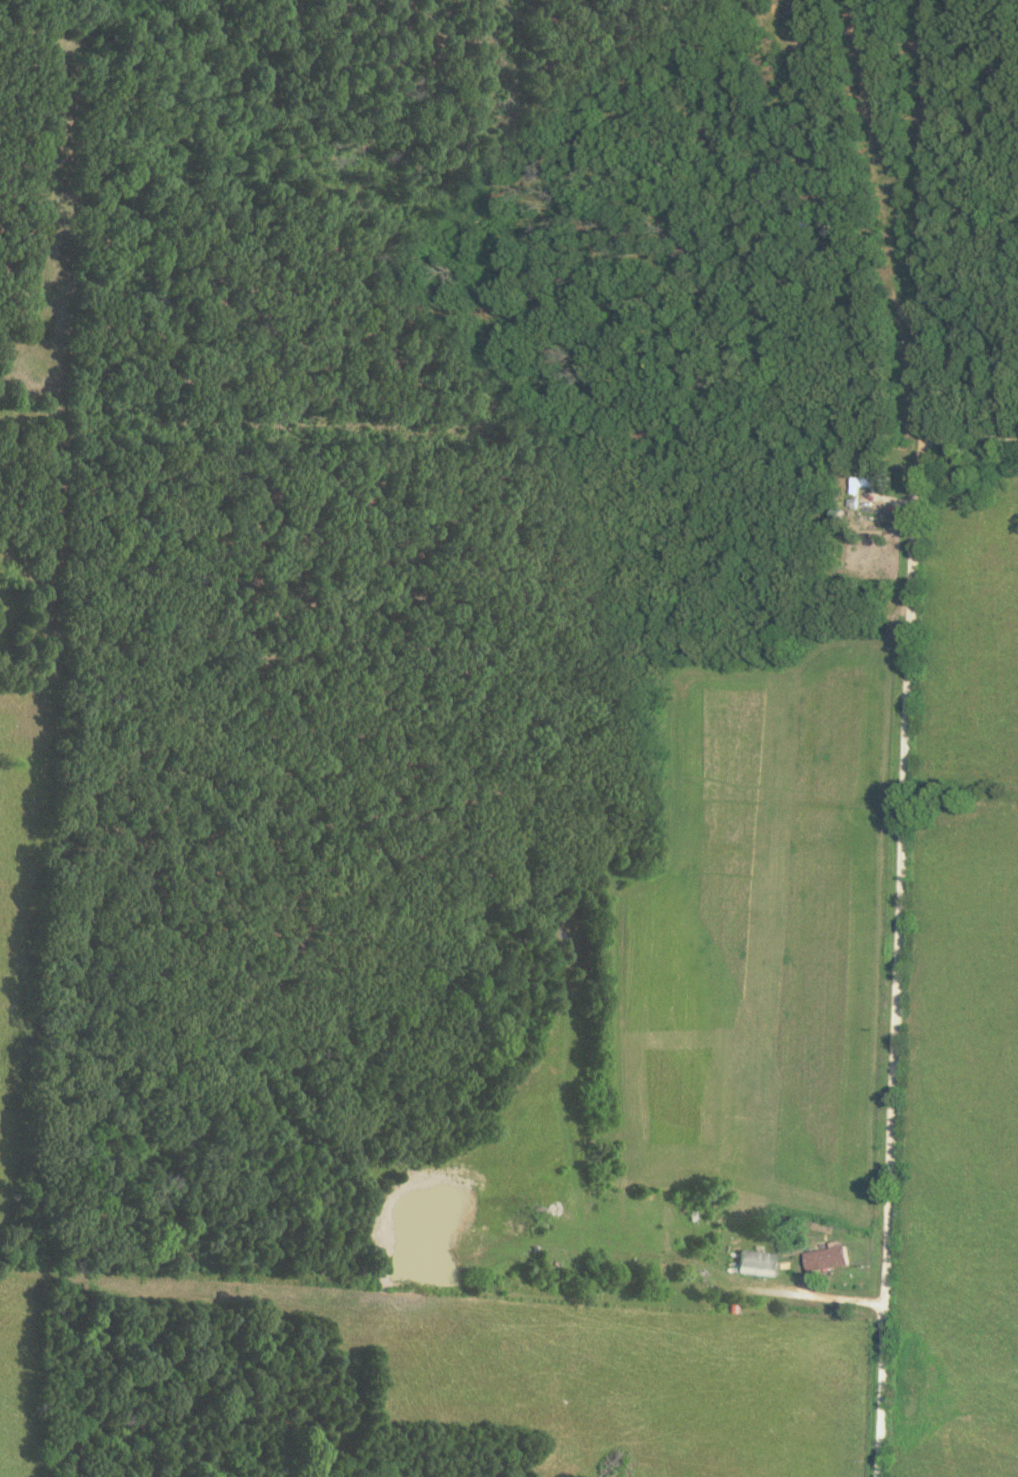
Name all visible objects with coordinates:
road: (923, 226)
building: (868, 484)
road: (900, 964)
building: (827, 1258)
building: (754, 1262)

